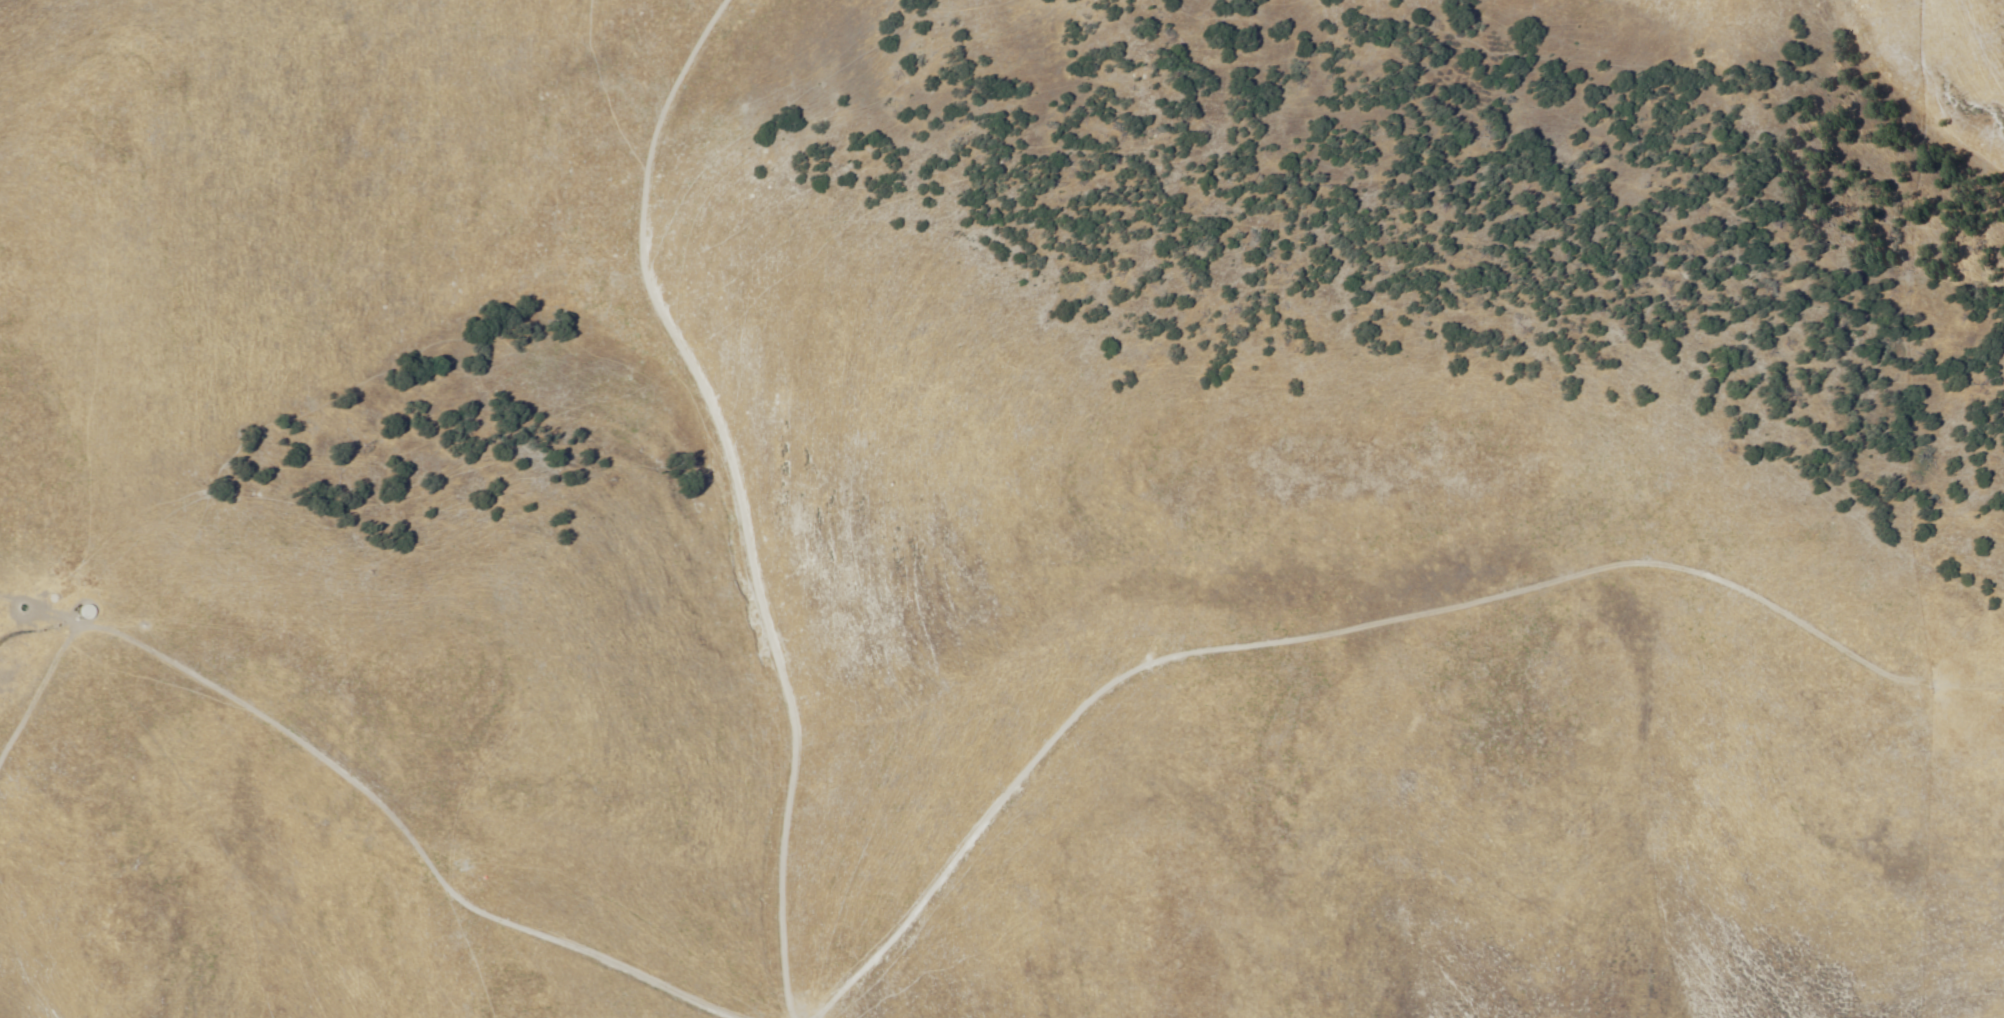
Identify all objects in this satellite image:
road: (717, 499)
building: (85, 612)
storage tank: (85, 612)
road: (1331, 676)
road: (352, 854)

